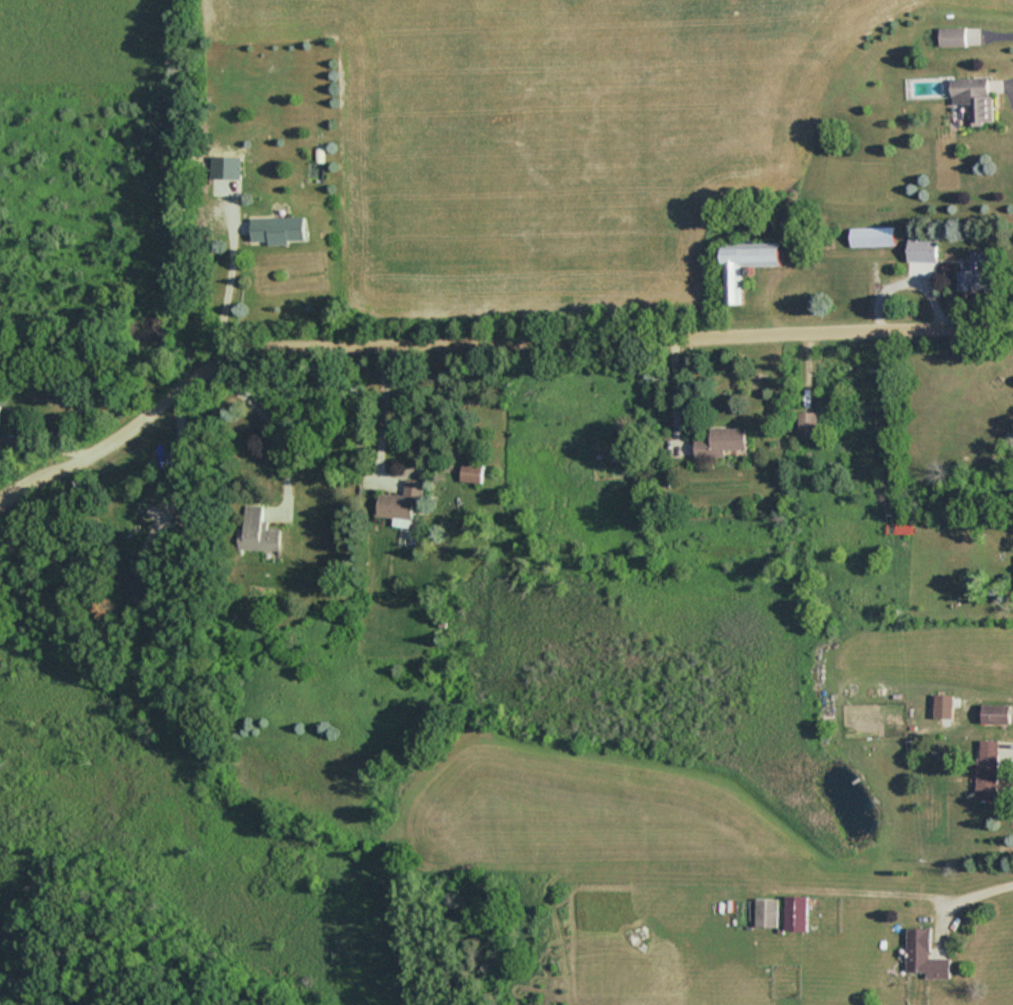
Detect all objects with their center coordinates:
building: (952, 36)
road: (1007, 94)
building: (974, 99)
building: (226, 176)
building: (277, 230)
building: (873, 237)
building: (923, 250)
building: (745, 263)
building: (978, 271)
road: (230, 286)
road: (561, 332)
road: (679, 386)
road: (376, 405)
building: (0, 414)
road: (269, 420)
building: (808, 423)
building: (721, 441)
road: (39, 447)
road: (69, 460)
road: (180, 468)
building: (470, 472)
building: (257, 531)
building: (138, 582)
building: (995, 713)
building: (987, 768)
road: (908, 895)
building: (766, 912)
building: (795, 912)
building: (924, 954)

